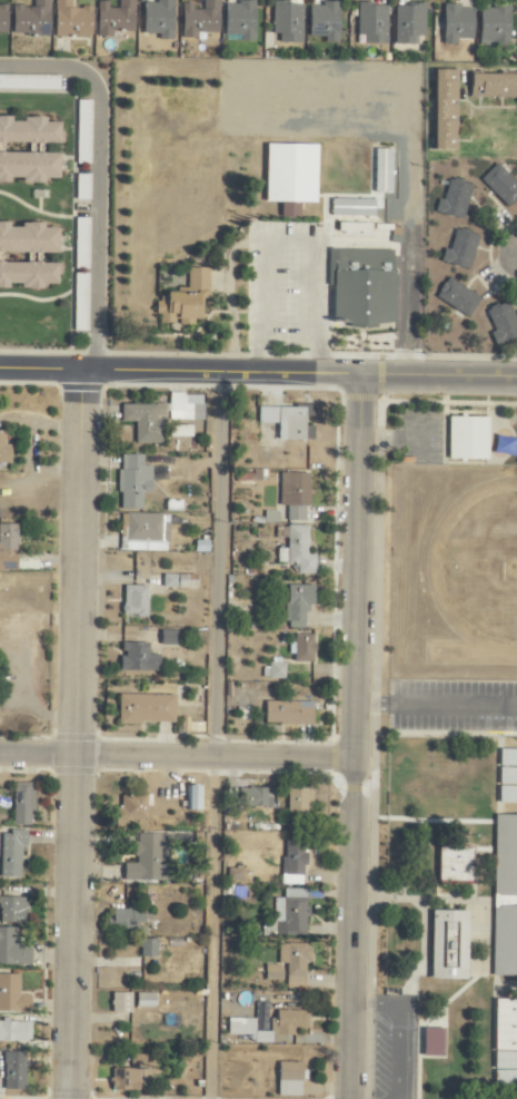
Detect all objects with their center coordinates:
building: (113, 18)
building: (30, 19)
building: (157, 19)
building: (2, 20)
building: (70, 20)
building: (198, 20)
building: (238, 20)
building: (322, 21)
building: (286, 22)
building: (370, 23)
building: (407, 23)
building: (455, 23)
building: (493, 26)
building: (29, 82)
building: (493, 86)
building: (443, 110)
building: (81, 131)
building: (27, 151)
building: (380, 171)
building: (289, 177)
road: (97, 178)
building: (499, 185)
building: (453, 199)
building: (350, 208)
road: (286, 239)
building: (458, 251)
road: (516, 253)
building: (27, 256)
building: (360, 287)
building: (79, 294)
building: (456, 297)
building: (182, 300)
building: (501, 323)
road: (258, 371)
building: (183, 406)
building: (287, 420)
building: (143, 421)
building: (466, 438)
building: (3, 450)
building: (131, 481)
building: (292, 494)
building: (143, 530)
building: (8, 547)
building: (296, 550)
road: (213, 566)
building: (178, 580)
building: (132, 600)
building: (296, 605)
building: (167, 637)
building: (300, 648)
building: (136, 657)
building: (272, 669)
road: (435, 705)
building: (145, 708)
building: (287, 712)
road: (69, 734)
road: (352, 735)
road: (176, 759)
building: (507, 776)
building: (191, 797)
building: (256, 797)
building: (297, 802)
building: (21, 803)
building: (132, 806)
building: (10, 853)
building: (148, 857)
building: (291, 862)
building: (454, 863)
building: (232, 874)
building: (235, 892)
building: (504, 896)
building: (12, 910)
building: (287, 914)
building: (121, 919)
road: (210, 929)
building: (447, 944)
building: (147, 946)
building: (12, 948)
building: (288, 964)
building: (11, 995)
building: (143, 999)
building: (119, 1002)
building: (288, 1021)
building: (249, 1024)
road: (396, 1031)
building: (431, 1042)
building: (505, 1042)
building: (136, 1059)
building: (13, 1070)
building: (129, 1079)
building: (288, 1079)

